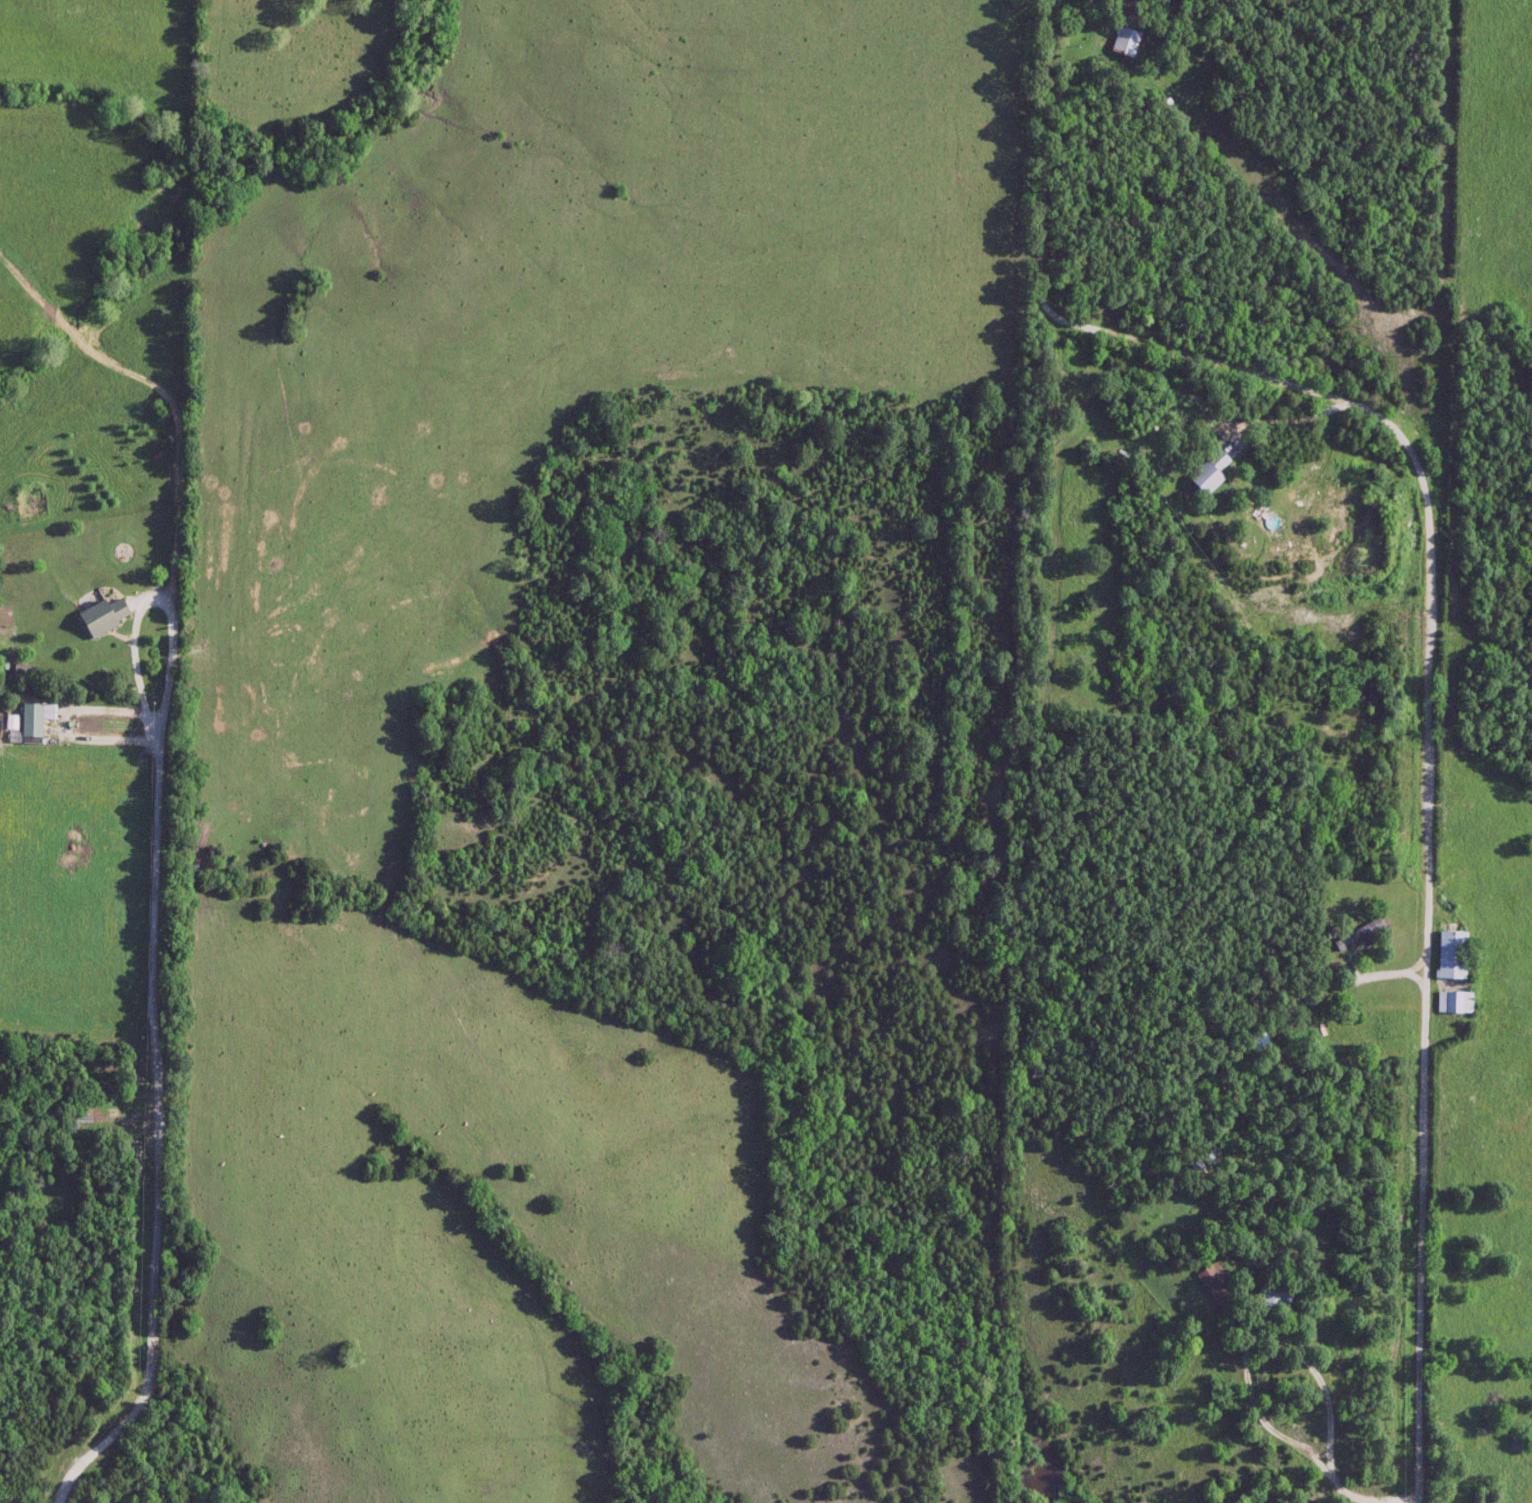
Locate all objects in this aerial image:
building: (1124, 42)
building: (1208, 473)
road: (1432, 613)
building: (103, 616)
building: (11, 721)
building: (30, 721)
building: (1360, 934)
building: (1451, 955)
road: (1375, 984)
building: (1453, 1002)
building: (1258, 1042)
building: (1218, 1284)
building: (1275, 1297)
road: (1249, 1373)
road: (1345, 1494)

